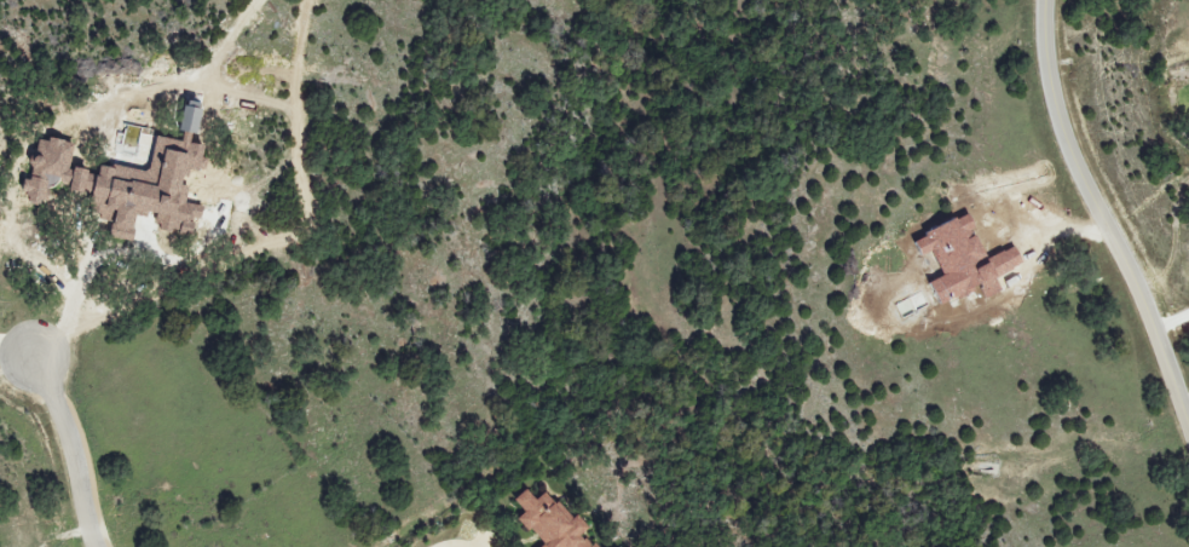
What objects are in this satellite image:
building: (190, 117)
building: (122, 185)
road: (1098, 219)
road: (69, 316)
road: (1170, 318)
road: (16, 349)
road: (16, 363)
park: (13, 385)
road: (68, 450)
building: (550, 520)
road: (455, 542)

